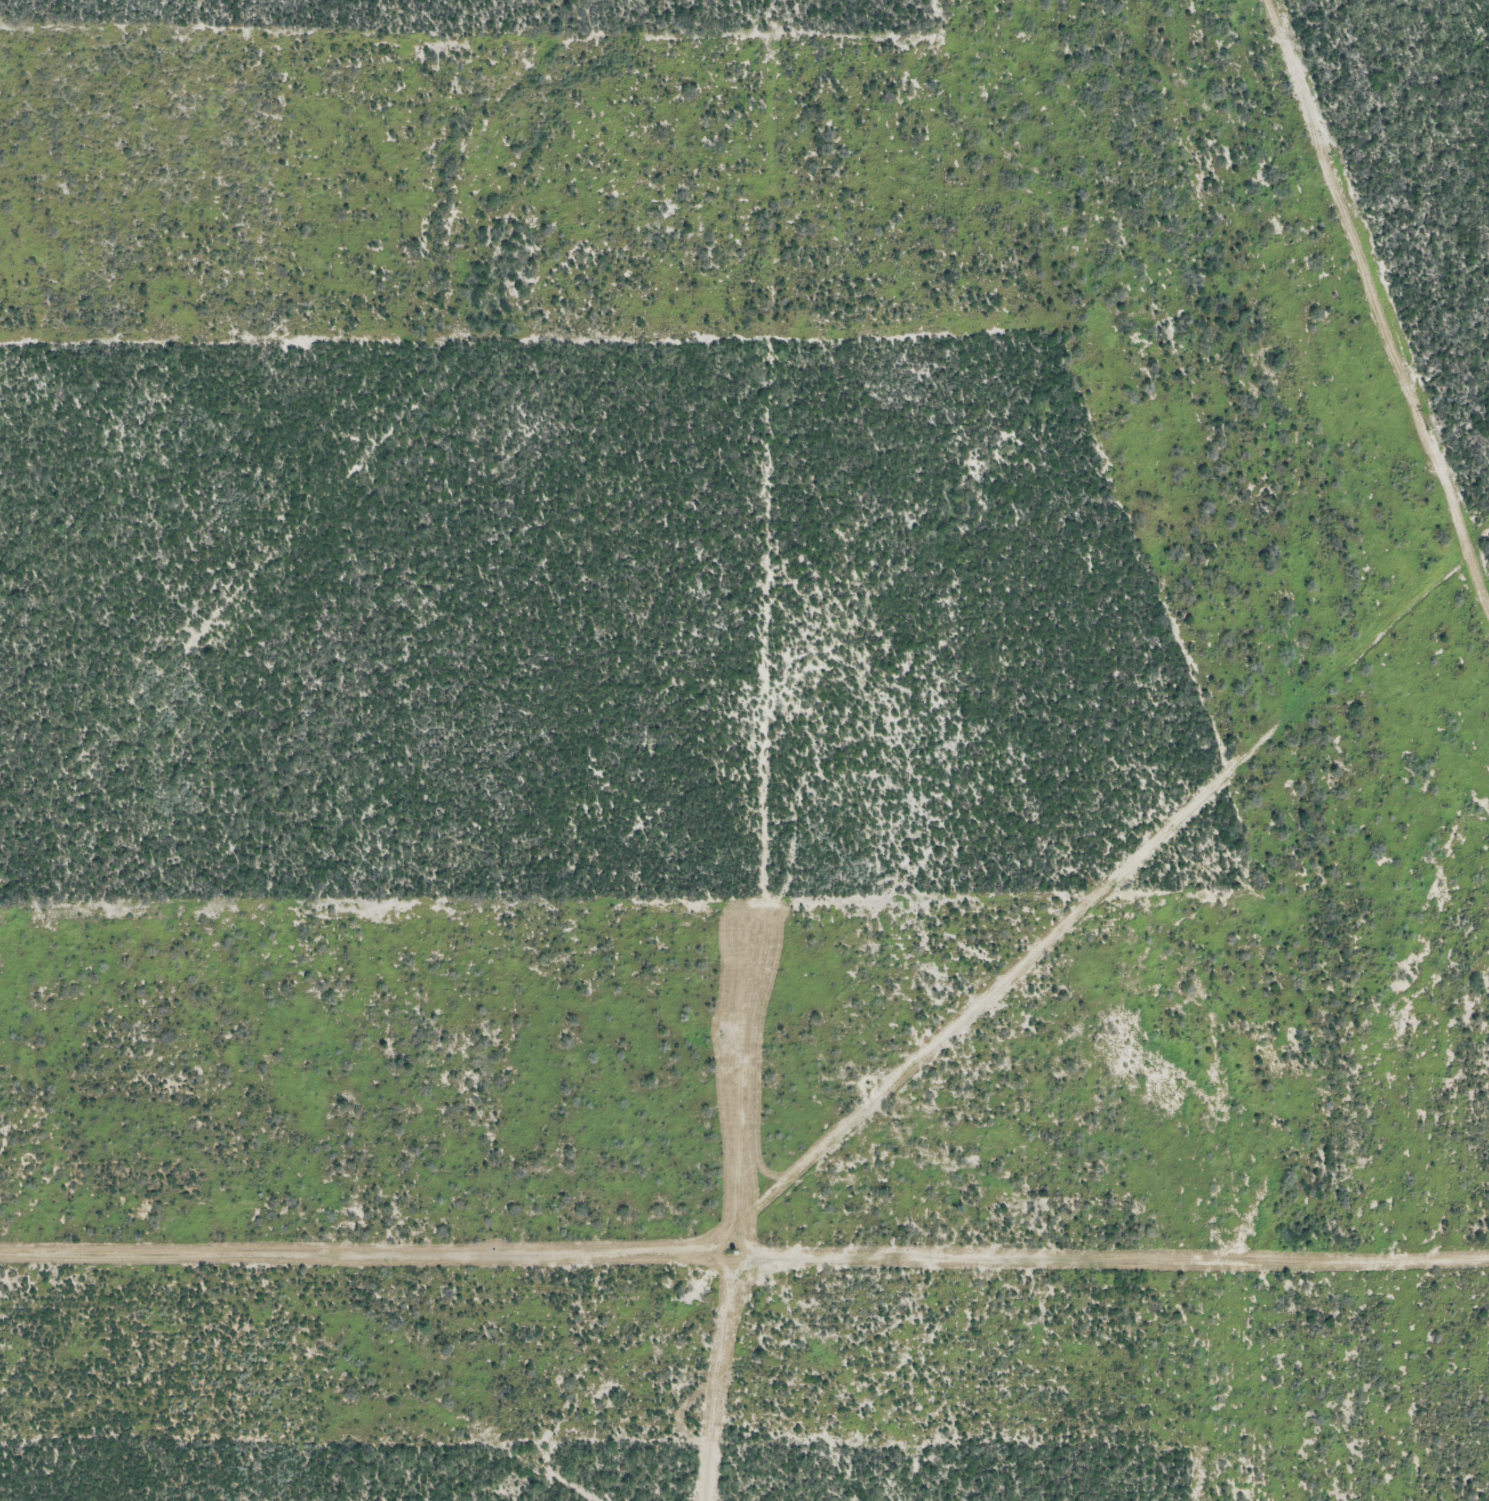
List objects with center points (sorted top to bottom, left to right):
power tower: (1329, 156)
power tower: (1429, 429)

